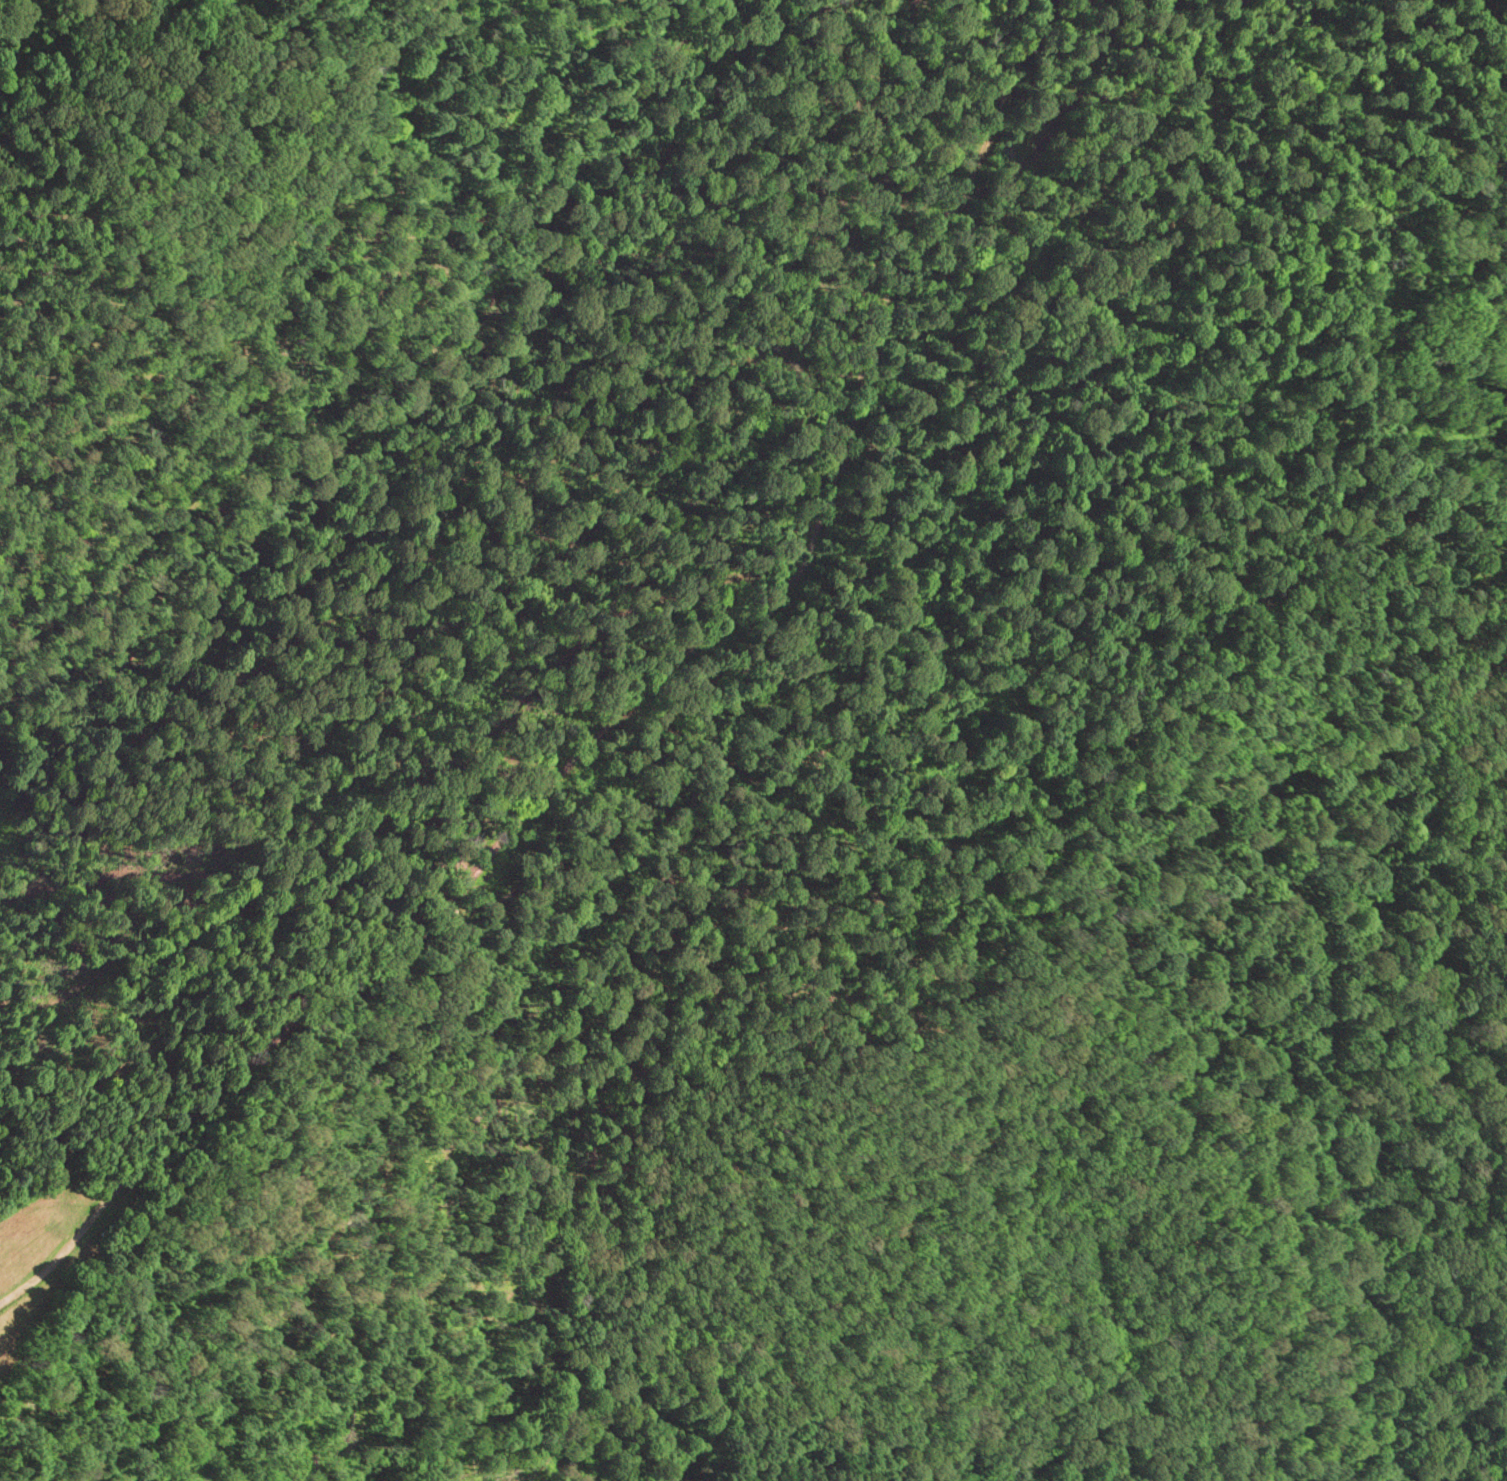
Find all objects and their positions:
road: (603, 680)

